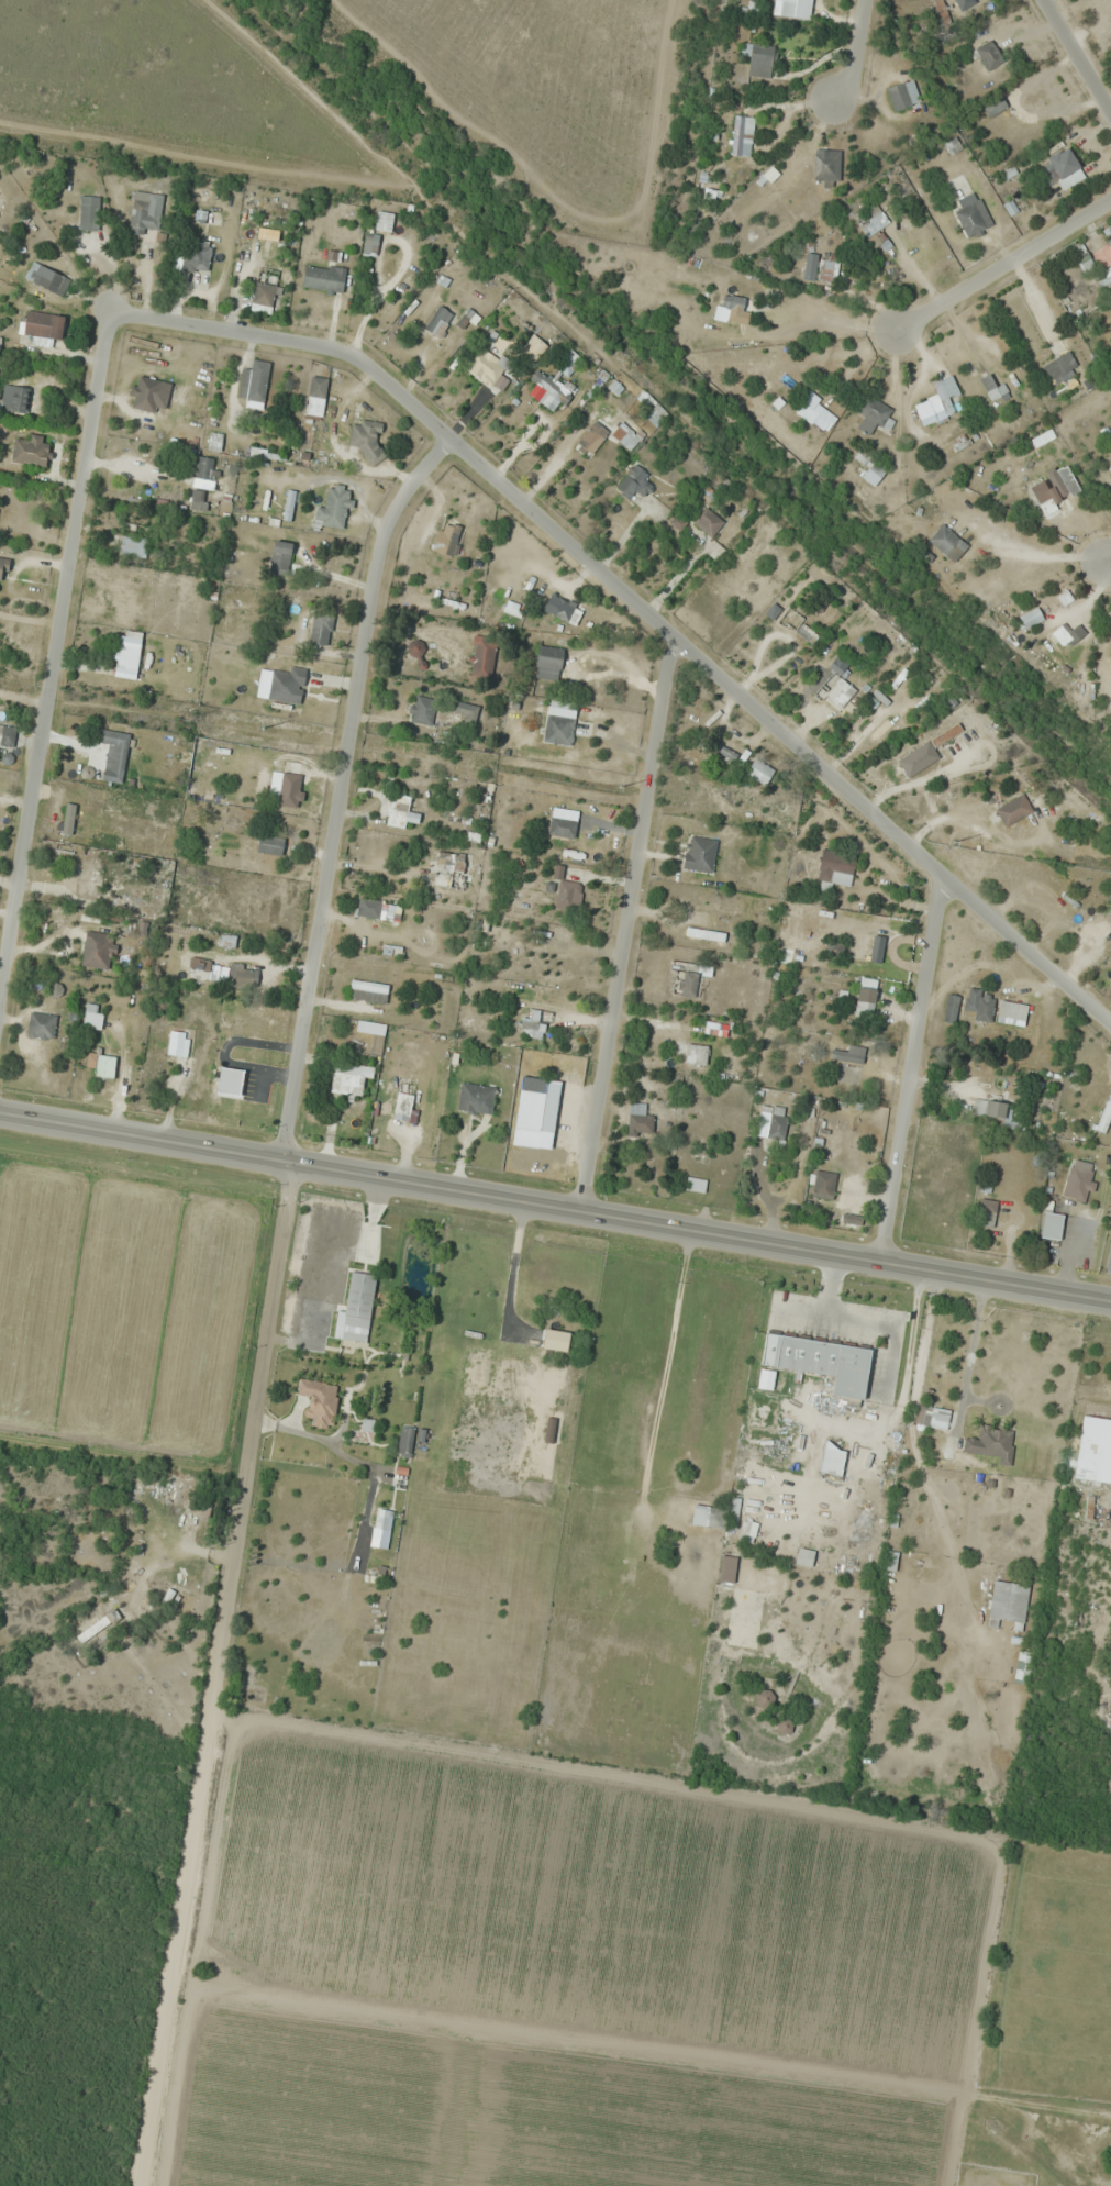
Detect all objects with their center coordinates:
building: (788, 7)
building: (941, 7)
road: (858, 54)
building: (988, 55)
road: (1076, 56)
building: (760, 59)
building: (902, 93)
building: (993, 106)
building: (740, 134)
building: (952, 145)
building: (823, 166)
building: (1060, 167)
building: (88, 211)
building: (142, 214)
building: (974, 218)
building: (384, 220)
building: (869, 220)
building: (196, 255)
building: (1081, 257)
building: (809, 265)
road: (999, 266)
building: (46, 277)
building: (323, 278)
building: (263, 297)
building: (396, 297)
building: (732, 301)
building: (438, 320)
building: (44, 325)
building: (486, 364)
building: (1060, 367)
building: (254, 380)
building: (992, 387)
building: (547, 390)
building: (148, 393)
building: (19, 398)
building: (937, 400)
building: (653, 409)
building: (814, 412)
building: (873, 414)
building: (591, 436)
building: (367, 437)
building: (214, 441)
building: (31, 450)
building: (869, 466)
building: (204, 471)
building: (1062, 479)
building: (634, 481)
building: (198, 499)
building: (288, 504)
building: (334, 508)
building: (446, 537)
building: (946, 542)
building: (133, 545)
building: (279, 556)
road: (1108, 557)
building: (3, 567)
building: (992, 587)
road: (638, 607)
building: (566, 609)
building: (320, 628)
building: (1070, 632)
road: (52, 639)
building: (415, 647)
building: (125, 655)
building: (548, 662)
building: (286, 684)
building: (838, 685)
building: (420, 709)
building: (467, 711)
building: (558, 729)
building: (875, 730)
building: (7, 734)
building: (926, 748)
building: (114, 753)
building: (758, 770)
road: (341, 788)
building: (937, 797)
building: (1012, 809)
building: (400, 811)
building: (562, 826)
building: (1067, 840)
building: (269, 844)
building: (699, 853)
building: (452, 863)
building: (835, 867)
building: (90, 878)
building: (568, 895)
building: (719, 906)
building: (368, 907)
road: (623, 921)
building: (709, 934)
building: (98, 950)
building: (242, 974)
building: (686, 983)
building: (368, 990)
building: (865, 1000)
building: (979, 1003)
building: (1020, 1010)
building: (92, 1016)
building: (535, 1023)
building: (41, 1025)
building: (370, 1027)
building: (712, 1027)
building: (179, 1041)
building: (696, 1053)
building: (849, 1053)
building: (104, 1065)
road: (909, 1070)
building: (349, 1077)
building: (476, 1098)
building: (402, 1106)
building: (535, 1110)
building: (991, 1110)
building: (1106, 1113)
building: (638, 1119)
building: (776, 1121)
building: (1079, 1179)
building: (695, 1184)
building: (822, 1184)
road: (555, 1203)
building: (985, 1212)
building: (1051, 1224)
building: (358, 1306)
building: (820, 1362)
building: (318, 1401)
building: (923, 1416)
building: (404, 1440)
building: (990, 1442)
building: (1093, 1450)
building: (831, 1460)
building: (147, 1477)
building: (178, 1488)
building: (715, 1514)
building: (381, 1519)
building: (803, 1556)
building: (726, 1569)
building: (178, 1602)
building: (1008, 1602)
building: (101, 1628)
road: (212, 1673)
building: (763, 1698)
building: (784, 1726)

